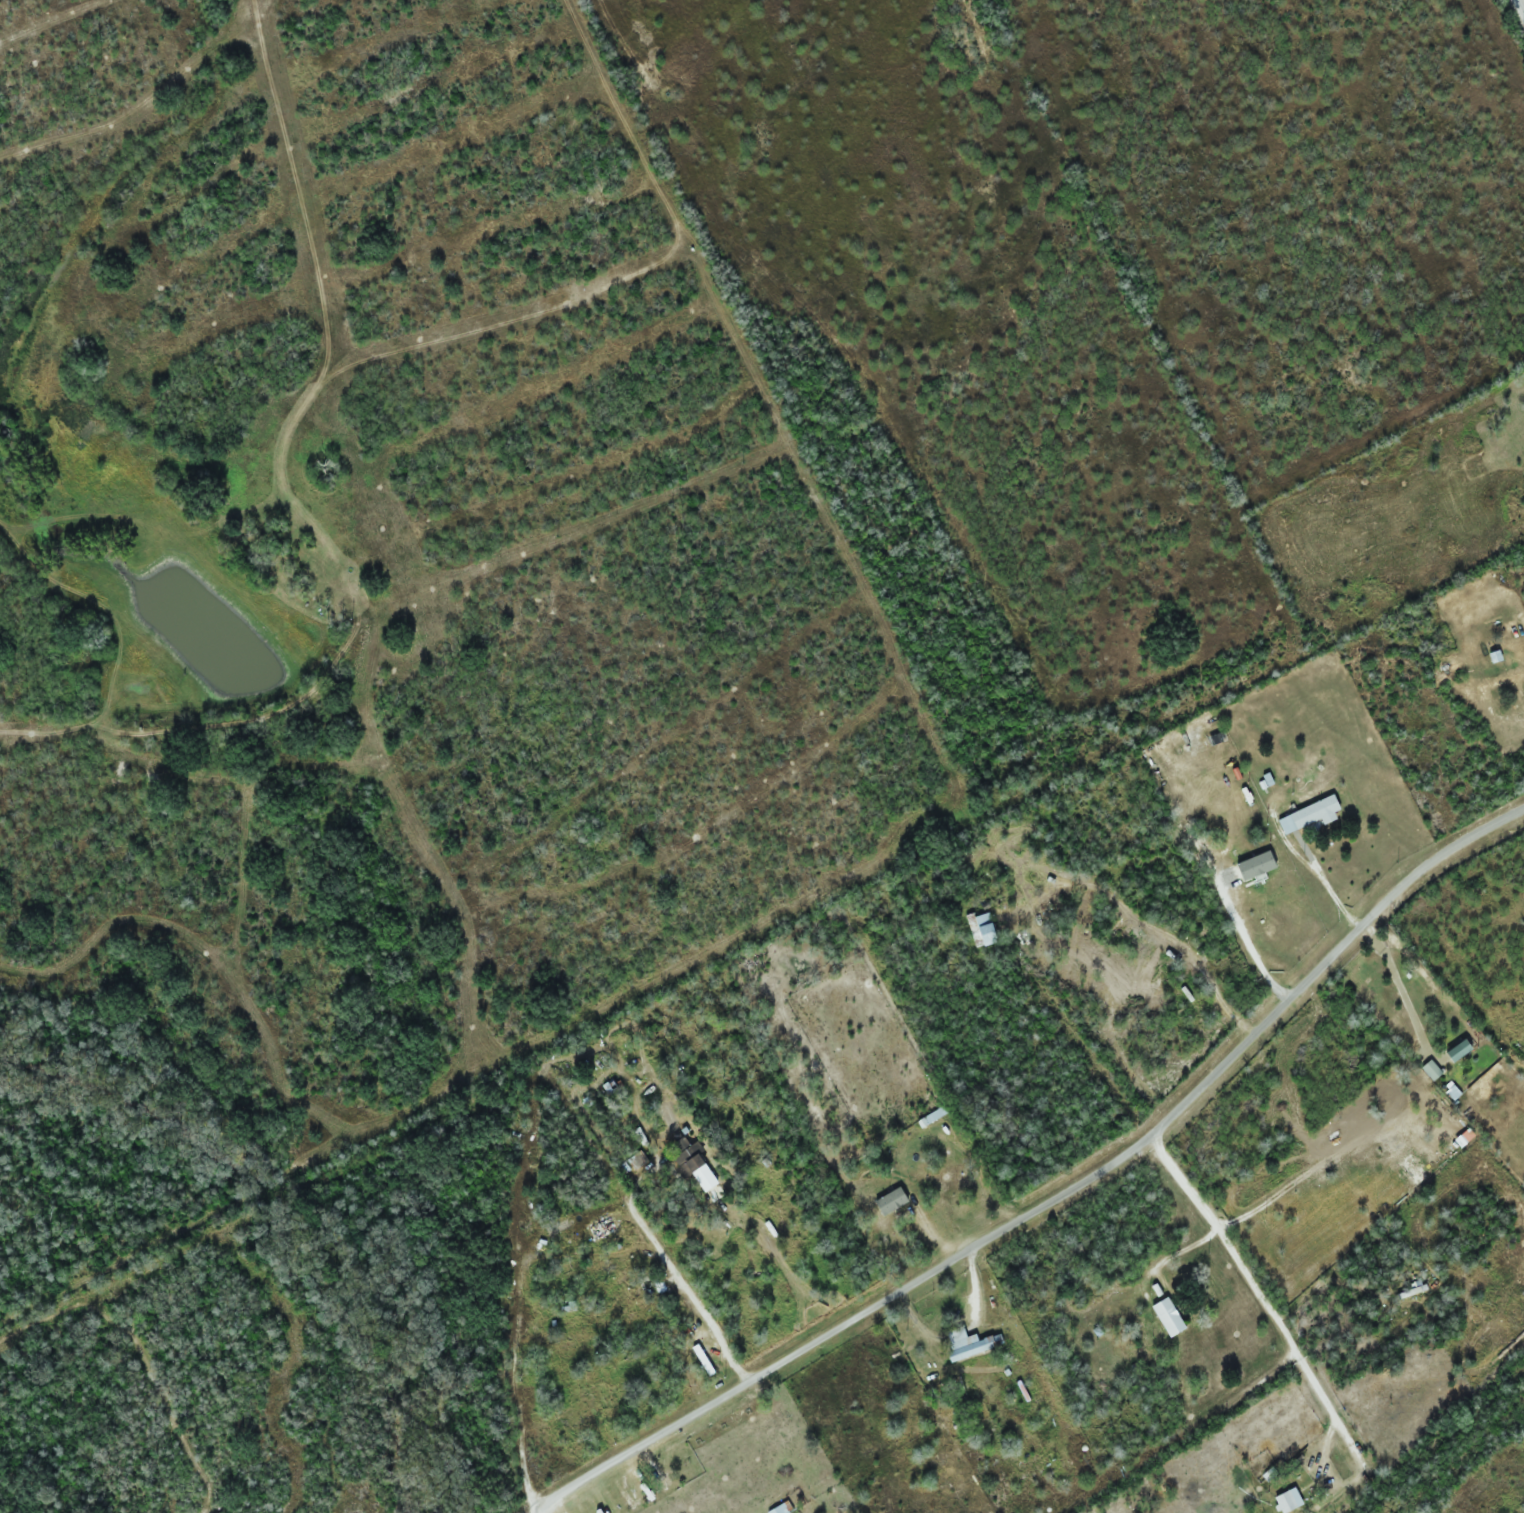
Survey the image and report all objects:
road: (1517, 13)
building: (1311, 814)
building: (982, 929)
building: (1432, 1070)
building: (934, 1116)
building: (689, 1155)
building: (942, 1177)
road: (1058, 1195)
road: (1225, 1242)
building: (634, 1291)
road: (689, 1294)
building: (1169, 1317)
road: (510, 1327)
building: (969, 1343)
road: (166, 1404)
building: (1286, 1502)

